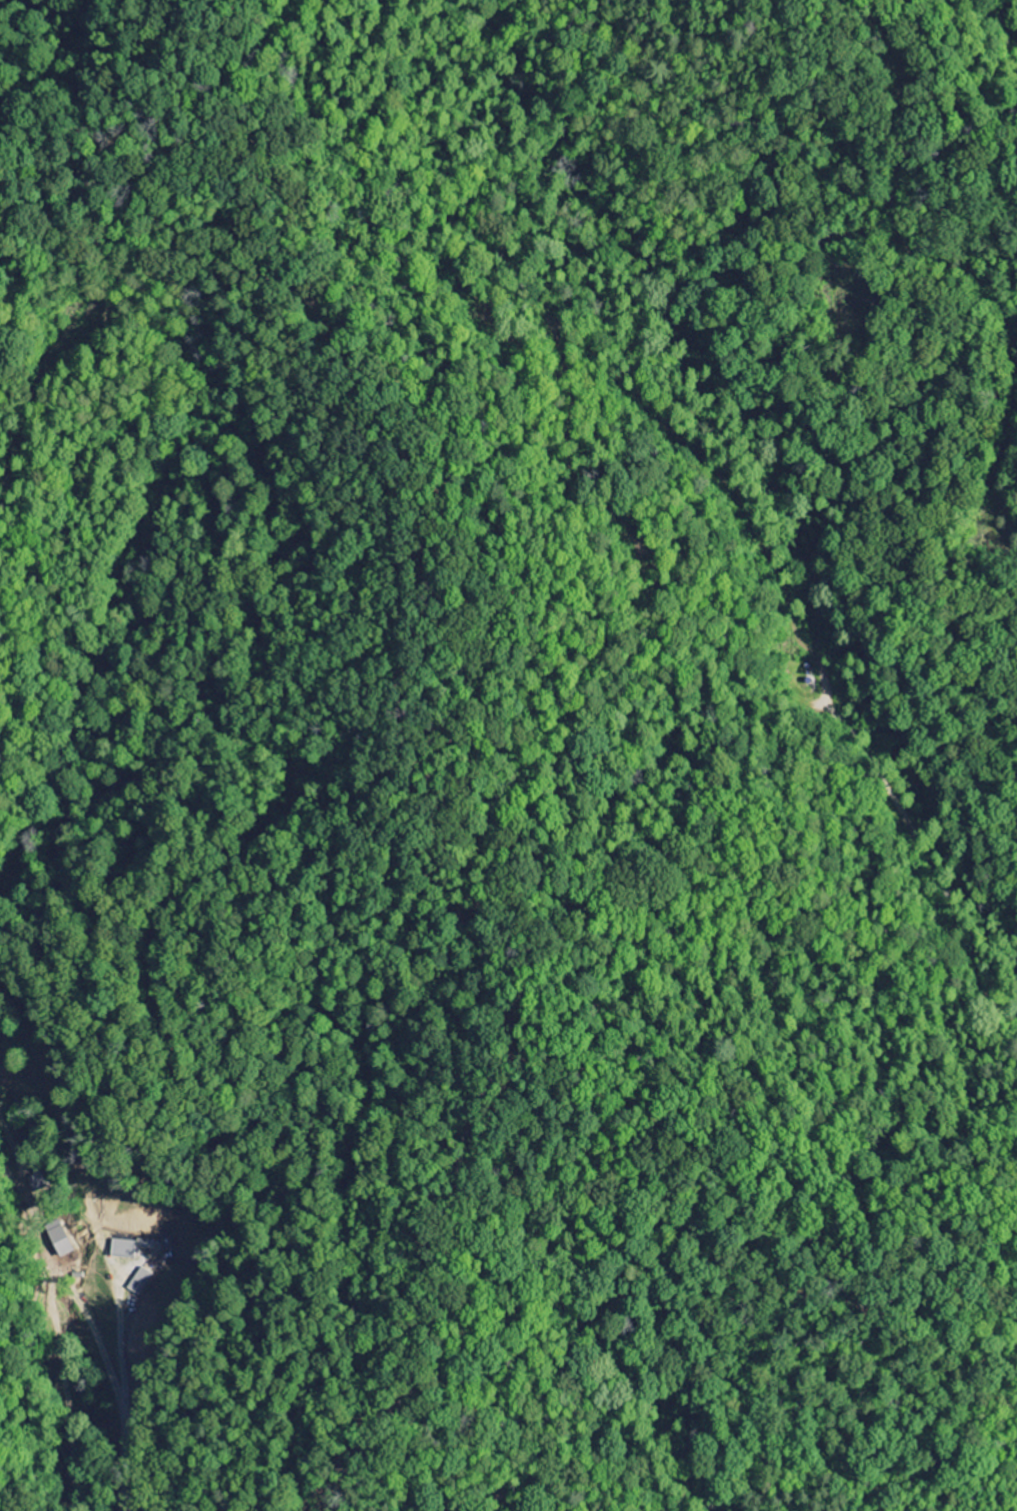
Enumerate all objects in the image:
building: (58, 1242)
building: (137, 1281)

